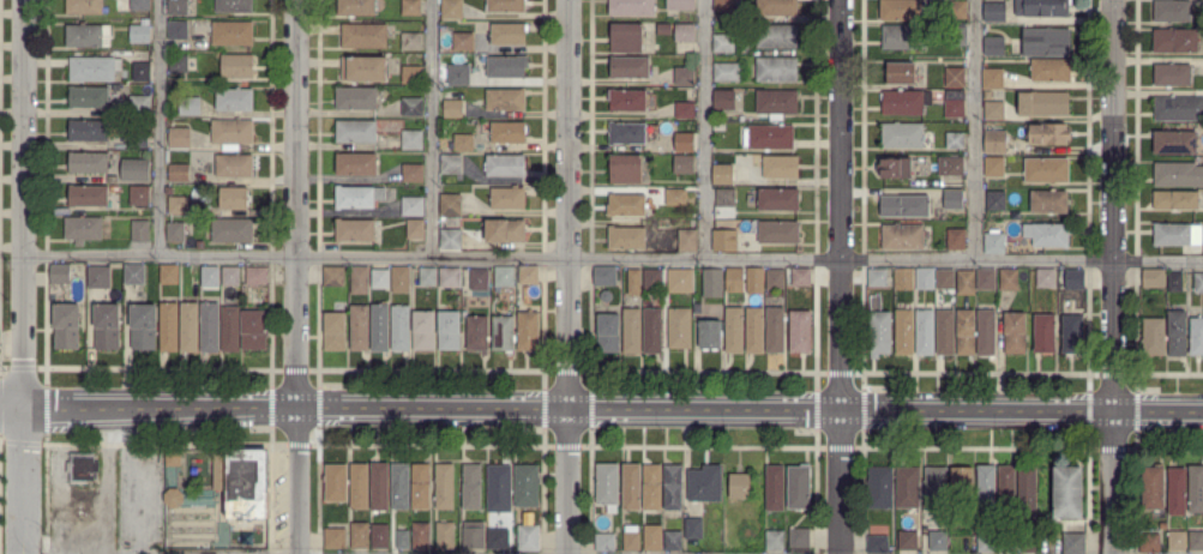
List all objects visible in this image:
building: (140, 4)
building: (233, 5)
building: (680, 5)
building: (722, 5)
building: (84, 6)
building: (179, 6)
building: (506, 6)
building: (776, 6)
building: (354, 7)
building: (410, 7)
building: (630, 7)
building: (1040, 7)
building: (451, 8)
building: (955, 8)
building: (898, 10)
building: (1172, 11)
building: (994, 12)
building: (179, 30)
building: (140, 32)
building: (231, 32)
building: (684, 32)
building: (509, 34)
building: (84, 35)
building: (362, 35)
building: (626, 36)
building: (776, 36)
building: (956, 36)
building: (902, 37)
building: (1173, 40)
building: (410, 41)
building: (464, 41)
building: (723, 42)
building: (1046, 42)
building: (993, 46)
building: (179, 64)
building: (237, 66)
building: (506, 66)
building: (627, 67)
building: (92, 68)
building: (363, 68)
building: (775, 68)
building: (1049, 68)
building: (140, 71)
building: (727, 71)
building: (900, 72)
building: (458, 73)
building: (410, 74)
building: (1171, 74)
building: (684, 76)
building: (955, 77)
building: (992, 78)
building: (986, 95)
building: (88, 97)
building: (355, 98)
building: (724, 98)
building: (234, 100)
building: (505, 100)
building: (630, 100)
building: (904, 101)
building: (776, 103)
building: (1043, 103)
building: (139, 106)
building: (190, 106)
building: (411, 106)
building: (954, 108)
building: (1172, 108)
building: (453, 109)
building: (684, 110)
building: (993, 110)
building: (730, 116)
building: (169, 122)
building: (736, 125)
road: (22, 127)
road: (157, 127)
road: (431, 128)
road: (705, 128)
building: (89, 130)
road: (975, 130)
building: (354, 131)
building: (231, 132)
building: (507, 132)
building: (627, 133)
building: (1046, 133)
building: (901, 134)
building: (769, 137)
building: (179, 138)
building: (138, 139)
building: (411, 140)
building: (682, 140)
building: (954, 140)
building: (463, 141)
building: (994, 141)
building: (1173, 143)
building: (88, 162)
building: (356, 163)
building: (451, 164)
building: (684, 164)
building: (234, 165)
building: (506, 165)
building: (950, 165)
building: (993, 165)
building: (780, 167)
building: (625, 168)
building: (895, 168)
building: (136, 169)
building: (1045, 170)
building: (179, 173)
building: (411, 173)
building: (722, 173)
building: (1177, 175)
building: (112, 179)
building: (88, 195)
building: (139, 195)
building: (234, 197)
building: (357, 197)
building: (674, 197)
building: (724, 197)
building: (507, 199)
building: (777, 199)
building: (1173, 199)
building: (954, 200)
building: (994, 200)
building: (1047, 200)
road: (296, 203)
building: (450, 203)
road: (840, 203)
road: (1112, 203)
building: (178, 204)
road: (569, 204)
building: (624, 204)
building: (413, 205)
building: (904, 206)
building: (690, 224)
building: (83, 228)
building: (415, 228)
building: (231, 229)
building: (354, 229)
building: (140, 230)
building: (176, 231)
building: (505, 231)
building: (777, 231)
building: (1047, 234)
building: (1171, 234)
building: (902, 236)
building: (626, 237)
building: (451, 239)
building: (956, 239)
building: (686, 240)
building: (722, 240)
building: (994, 242)
road: (612, 257)
building: (61, 273)
building: (257, 273)
building: (134, 275)
building: (169, 275)
building: (210, 275)
building: (528, 275)
building: (98, 276)
building: (230, 276)
building: (332, 276)
building: (427, 276)
building: (504, 276)
building: (604, 276)
building: (380, 277)
building: (449, 277)
building: (800, 277)
building: (877, 277)
building: (734, 278)
building: (775, 278)
building: (903, 278)
building: (925, 278)
building: (945, 278)
building: (1073, 278)
building: (1153, 278)
building: (359, 279)
building: (401, 279)
building: (479, 279)
building: (652, 279)
building: (985, 279)
building: (1007, 279)
building: (714, 281)
building: (754, 281)
building: (633, 282)
building: (684, 282)
building: (964, 282)
building: (1174, 282)
building: (1198, 282)
building: (107, 324)
building: (66, 326)
building: (144, 326)
building: (190, 326)
building: (399, 326)
building: (169, 327)
building: (209, 327)
building: (230, 327)
building: (379, 327)
building: (359, 329)
building: (679, 329)
building: (734, 329)
building: (775, 329)
road: (20, 330)
building: (253, 330)
building: (423, 330)
building: (449, 330)
building: (528, 330)
building: (632, 330)
building: (753, 330)
building: (333, 331)
building: (652, 331)
building: (800, 331)
building: (904, 331)
building: (924, 331)
building: (944, 331)
building: (985, 331)
building: (477, 332)
building: (607, 332)
building: (964, 332)
building: (1015, 332)
building: (1177, 332)
building: (503, 333)
building: (880, 333)
building: (1043, 333)
building: (1072, 333)
building: (709, 335)
building: (1153, 336)
building: (1196, 336)
road: (10, 404)
road: (73, 407)
road: (212, 408)
road: (750, 408)
building: (173, 458)
building: (82, 466)
road: (20, 480)
road: (297, 481)
road: (567, 481)
road: (840, 481)
building: (962, 481)
road: (1112, 481)
building: (336, 482)
building: (704, 483)
building: (934, 484)
building: (359, 486)
building: (399, 486)
building: (444, 486)
building: (473, 486)
building: (525, 486)
building: (608, 486)
building: (673, 486)
building: (739, 486)
building: (799, 486)
building: (907, 486)
building: (379, 487)
building: (421, 487)
building: (631, 487)
building: (651, 487)
building: (774, 487)
building: (879, 487)
building: (1151, 487)
building: (499, 488)
building: (986, 488)
building: (1006, 488)
building: (1195, 488)
road: (131, 490)
building: (1027, 490)
building: (1177, 490)
building: (1067, 492)
building: (243, 495)
building: (173, 498)
building: (1161, 525)
building: (693, 528)
building: (359, 534)
building: (380, 535)
building: (420, 535)
building: (445, 535)
building: (467, 535)
building: (528, 536)
building: (335, 537)
building: (631, 537)
building: (651, 537)
building: (798, 537)
building: (403, 538)
building: (498, 538)
building: (673, 540)
building: (774, 540)
building: (907, 540)
building: (937, 540)
building: (1175, 540)
building: (1195, 540)
building: (604, 541)
building: (986, 541)
building: (1006, 541)
building: (1027, 541)
building: (1147, 542)
building: (876, 543)
building: (1072, 543)

